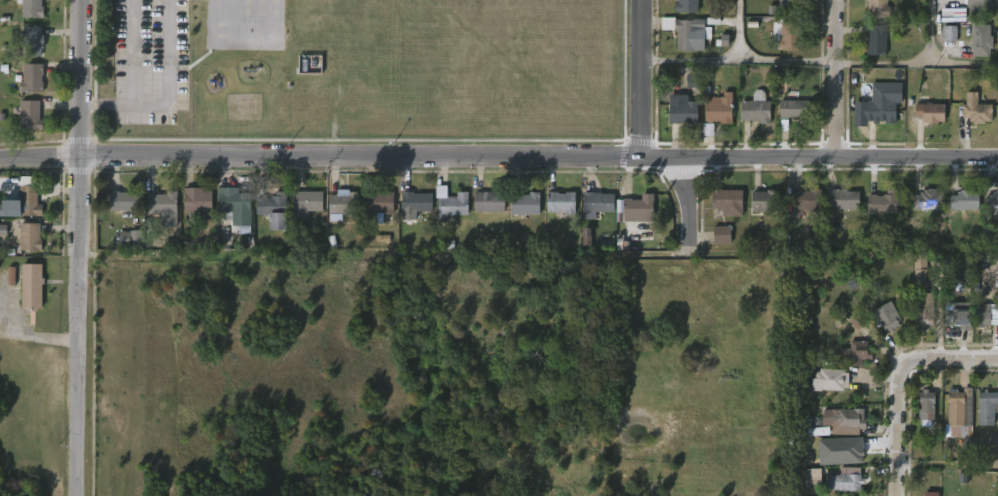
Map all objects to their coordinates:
building: (788, 4)
building: (685, 5)
building: (779, 8)
building: (877, 8)
building: (978, 8)
building: (32, 9)
road: (742, 26)
road: (929, 31)
building: (682, 32)
building: (787, 34)
building: (875, 39)
building: (984, 40)
building: (33, 42)
building: (944, 44)
building: (781, 45)
building: (683, 47)
building: (870, 52)
building: (975, 52)
road: (738, 53)
parking lot: (148, 61)
road: (917, 62)
building: (30, 78)
road: (639, 79)
road: (837, 79)
road: (167, 96)
building: (718, 108)
building: (755, 108)
building: (975, 109)
building: (793, 110)
building: (881, 111)
building: (682, 112)
building: (929, 112)
building: (31, 114)
building: (713, 119)
building: (786, 119)
building: (970, 120)
building: (749, 122)
building: (677, 123)
building: (923, 123)
building: (24, 126)
road: (499, 158)
building: (123, 198)
building: (928, 198)
building: (488, 199)
building: (805, 199)
building: (841, 199)
building: (965, 199)
building: (195, 200)
building: (763, 200)
building: (991, 200)
building: (342, 201)
building: (378, 201)
building: (418, 201)
building: (558, 201)
building: (726, 201)
building: (525, 202)
building: (883, 202)
building: (23, 203)
building: (304, 203)
building: (595, 203)
road: (687, 204)
building: (451, 205)
building: (161, 206)
building: (275, 208)
building: (637, 208)
building: (229, 209)
building: (799, 210)
building: (837, 210)
building: (921, 210)
building: (757, 211)
building: (116, 212)
building: (411, 212)
building: (483, 212)
building: (722, 212)
building: (958, 212)
building: (338, 213)
building: (373, 213)
building: (554, 213)
building: (300, 214)
building: (519, 214)
building: (877, 214)
building: (591, 215)
building: (633, 219)
building: (268, 220)
building: (7, 221)
building: (31, 236)
building: (579, 244)
building: (716, 245)
building: (24, 247)
road: (78, 247)
building: (124, 249)
building: (914, 280)
building: (32, 285)
building: (923, 311)
building: (970, 315)
building: (884, 317)
building: (879, 326)
building: (955, 326)
building: (855, 352)
building: (849, 364)
building: (829, 380)
road: (904, 381)
building: (824, 390)
building: (925, 405)
building: (960, 407)
building: (985, 408)
building: (843, 419)
building: (920, 419)
building: (980, 419)
building: (951, 427)
building: (849, 449)
building: (844, 459)
building: (844, 480)
road: (900, 491)

